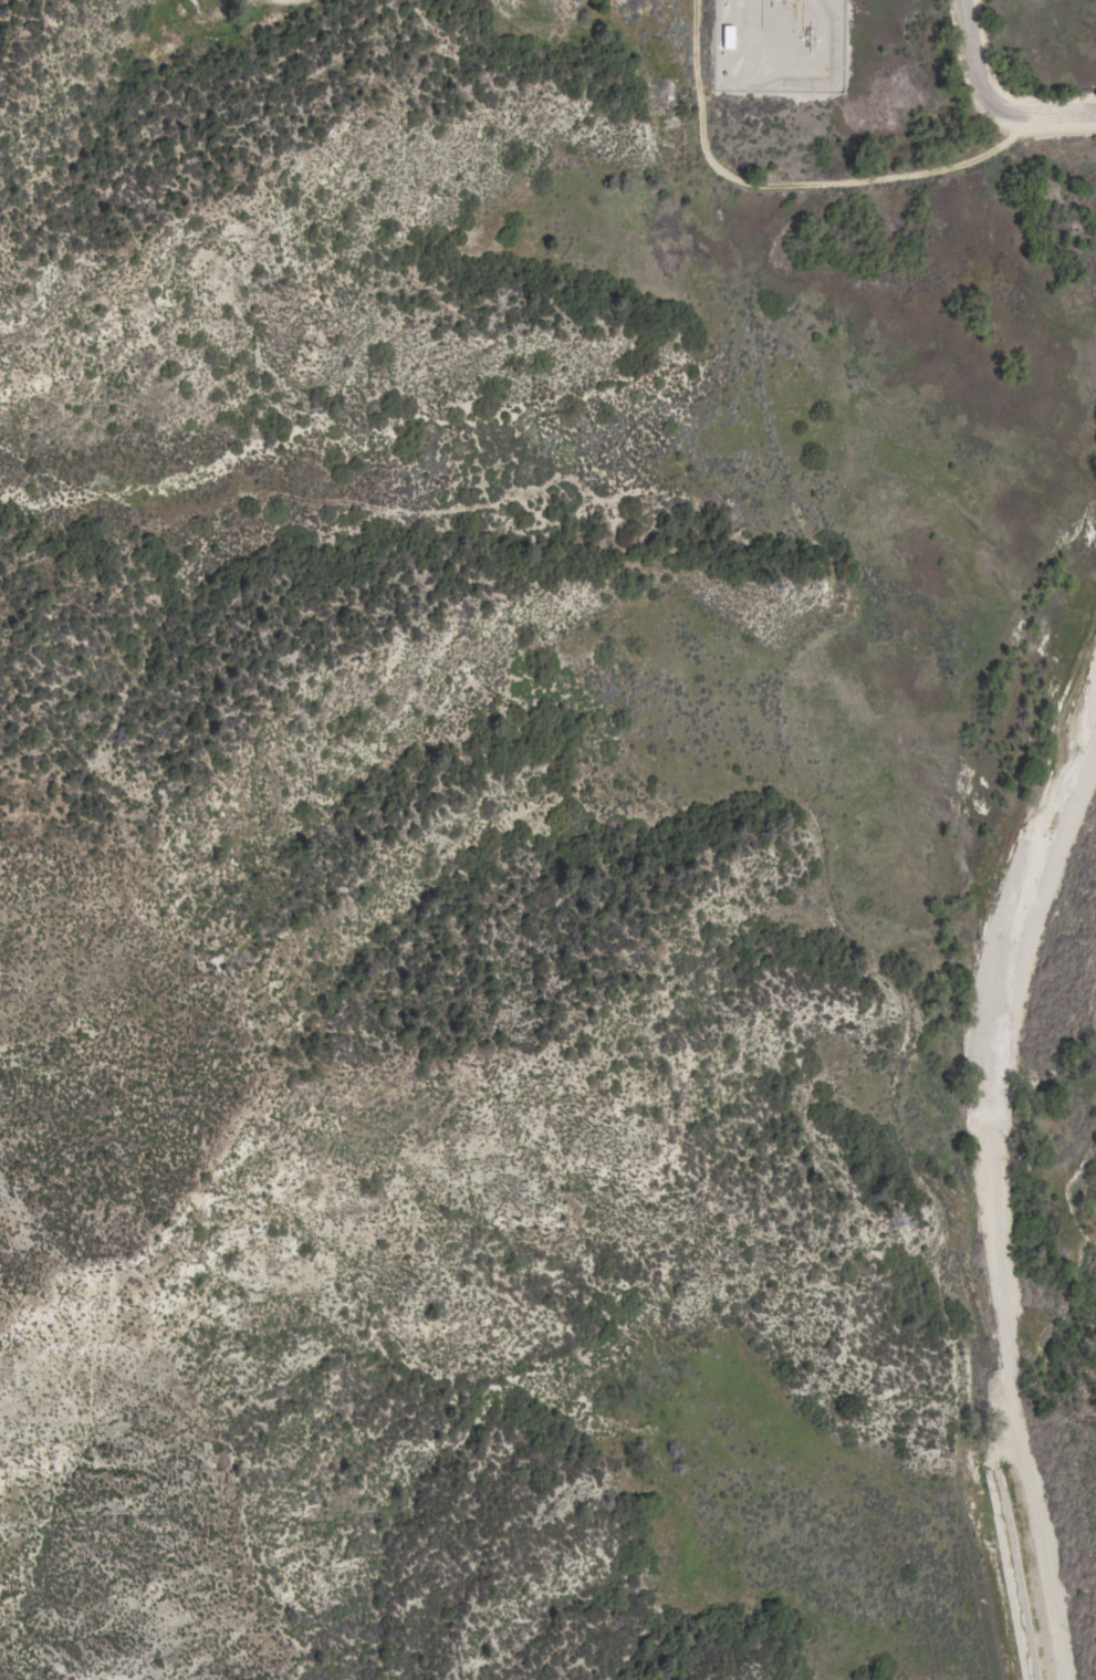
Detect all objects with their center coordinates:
building: (726, 36)
road: (994, 97)
road: (798, 179)
road: (723, 202)
road: (804, 805)
power tower: (901, 1224)

